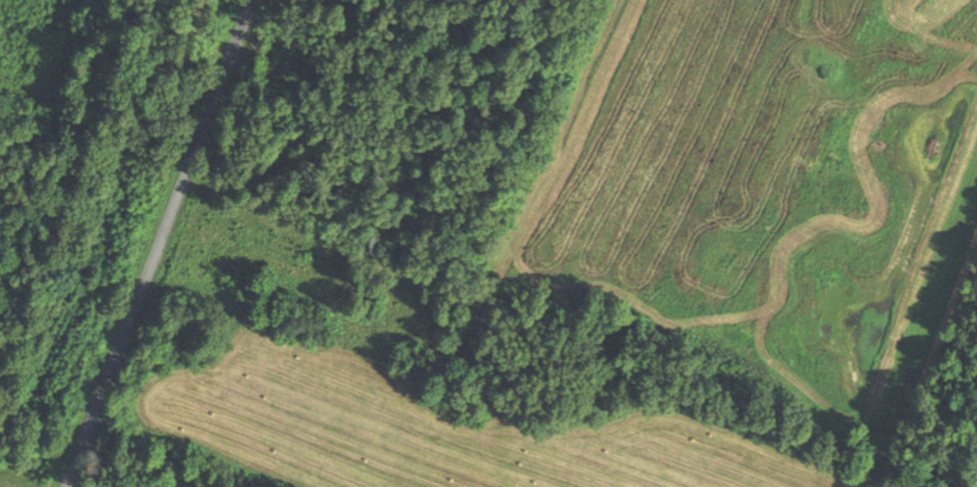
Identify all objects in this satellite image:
road: (161, 243)
road: (929, 363)

